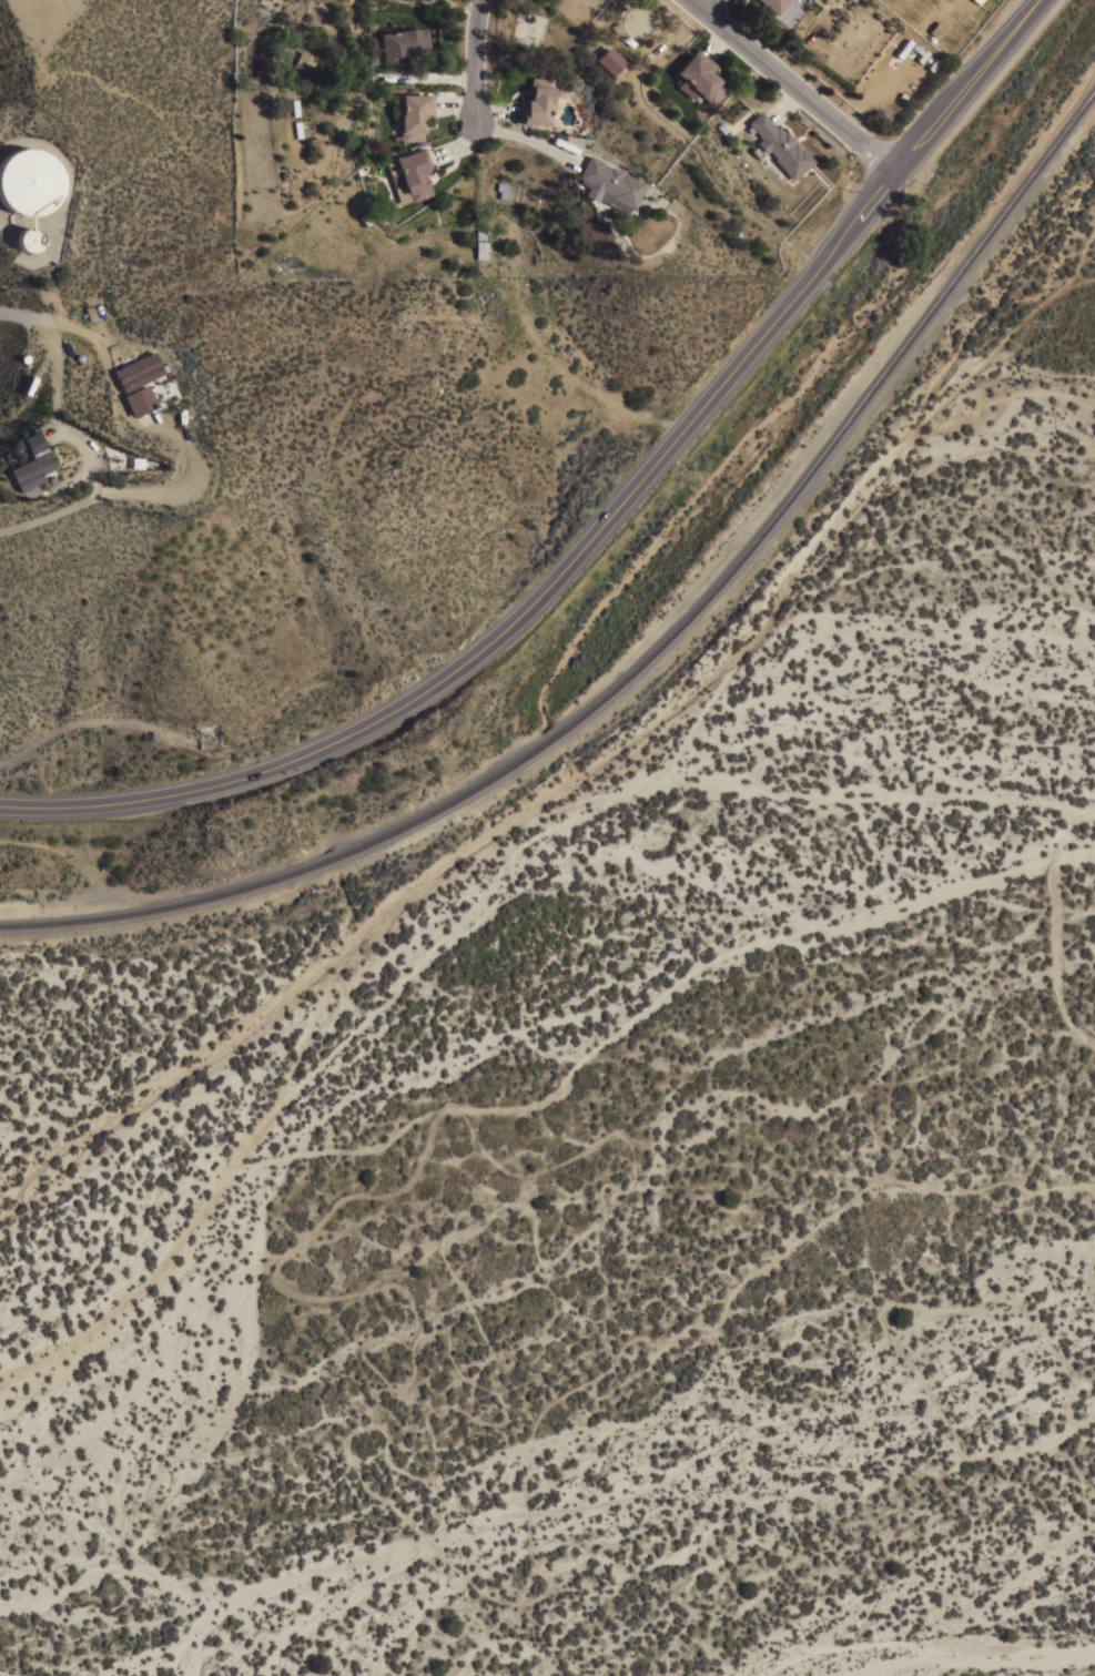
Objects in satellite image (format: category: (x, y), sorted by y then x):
building: (851, 0)
building: (976, 1)
road: (703, 4)
building: (773, 4)
road: (21, 21)
building: (402, 43)
building: (303, 61)
road: (475, 61)
building: (607, 61)
building: (700, 77)
road: (435, 78)
road: (791, 82)
building: (536, 102)
road: (456, 103)
road: (493, 112)
building: (414, 115)
road: (455, 139)
road: (526, 139)
building: (778, 145)
building: (410, 174)
building: (28, 181)
building: (609, 184)
building: (27, 238)
building: (480, 248)
railway: (932, 314)
road: (65, 325)
road: (50, 352)
building: (138, 370)
building: (141, 399)
building: (33, 441)
building: (30, 470)
road: (159, 492)
road: (84, 494)
road: (598, 529)
railway: (427, 814)

